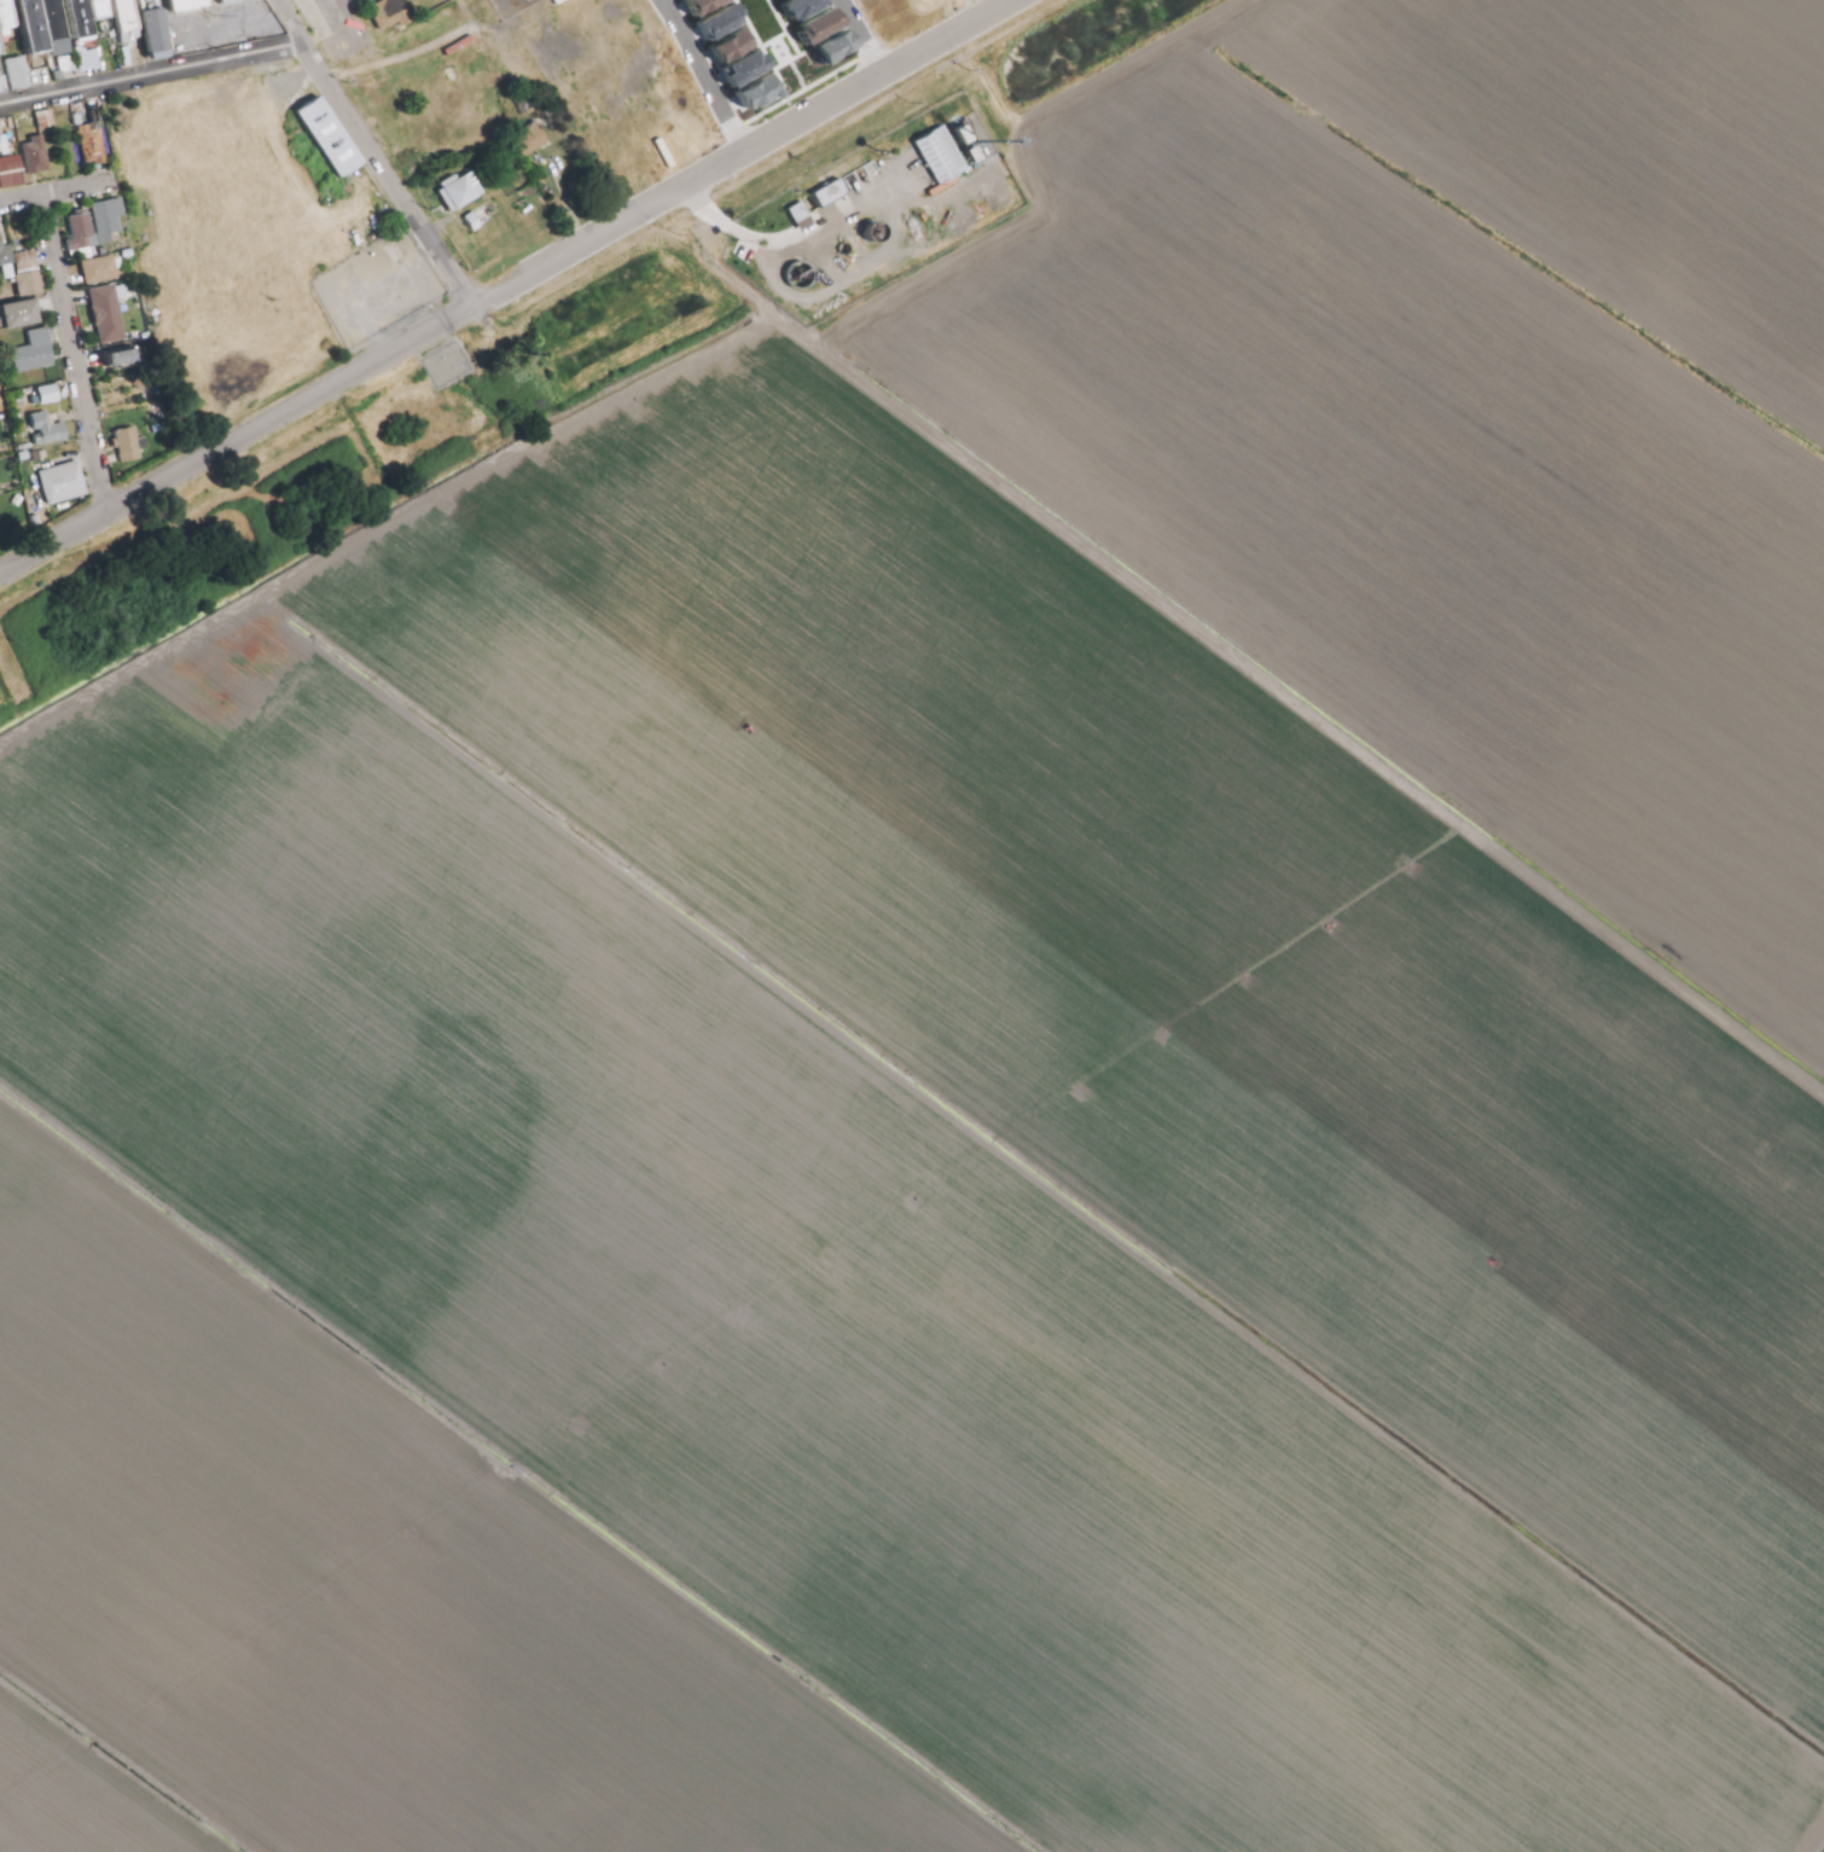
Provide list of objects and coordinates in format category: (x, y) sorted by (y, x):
building: (236, 1)
road: (1018, 2)
building: (191, 6)
building: (395, 6)
building: (703, 6)
building: (806, 6)
building: (105, 10)
building: (130, 18)
road: (945, 18)
building: (83, 19)
building: (720, 21)
building: (821, 23)
building: (37, 28)
building: (60, 29)
building: (156, 30)
road: (865, 37)
building: (1, 42)
building: (733, 43)
building: (835, 46)
road: (399, 50)
road: (786, 57)
building: (745, 66)
building: (21, 72)
road: (152, 75)
building: (40, 76)
road: (702, 76)
building: (5, 85)
building: (759, 89)
building: (965, 134)
building: (332, 135)
building: (530, 141)
road: (221, 143)
building: (95, 145)
building: (37, 155)
road: (371, 155)
building: (976, 155)
building: (943, 157)
building: (12, 172)
road: (59, 192)
building: (464, 192)
building: (833, 195)
road: (1033, 196)
building: (802, 214)
building: (530, 219)
building: (112, 221)
building: (83, 231)
park: (244, 239)
building: (6, 254)
road: (727, 259)
building: (103, 272)
building: (31, 274)
road: (509, 286)
parking lot: (384, 296)
building: (23, 315)
building: (110, 317)
building: (36, 353)
road: (76, 355)
building: (123, 359)
building: (51, 396)
building: (50, 432)
building: (130, 447)
park: (356, 459)
building: (66, 487)
road: (382, 533)
road: (1331, 697)
crop: (969, 1020)
road: (876, 1720)
road: (1808, 1831)

